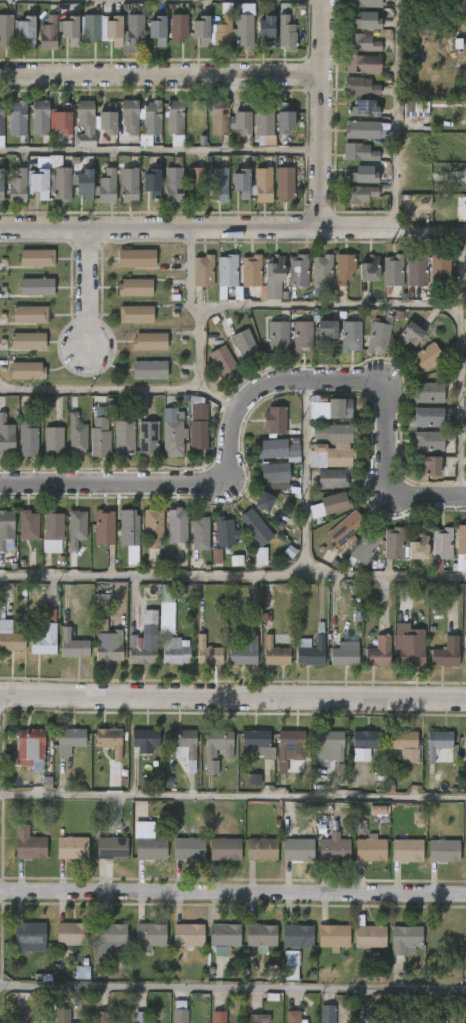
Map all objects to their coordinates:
building: (354, 3)
building: (373, 3)
building: (370, 19)
building: (92, 27)
building: (180, 27)
building: (269, 28)
building: (27, 29)
building: (73, 29)
building: (160, 29)
building: (115, 30)
building: (136, 30)
building: (226, 30)
building: (7, 31)
building: (48, 33)
building: (288, 33)
building: (364, 42)
building: (365, 63)
road: (160, 75)
building: (363, 86)
building: (367, 108)
road: (321, 113)
building: (131, 115)
road: (395, 115)
building: (41, 116)
building: (17, 118)
building: (110, 118)
building: (65, 121)
building: (176, 121)
building: (221, 121)
building: (243, 121)
building: (286, 121)
building: (2, 122)
building: (152, 122)
building: (86, 123)
building: (266, 126)
building: (364, 129)
building: (361, 152)
road: (160, 153)
building: (366, 174)
building: (175, 180)
building: (43, 181)
building: (155, 182)
building: (244, 182)
building: (2, 183)
building: (87, 183)
building: (197, 183)
building: (265, 183)
building: (130, 184)
building: (220, 184)
building: (285, 184)
building: (109, 185)
building: (360, 194)
road: (233, 227)
building: (138, 257)
building: (38, 258)
building: (346, 267)
building: (373, 267)
building: (205, 270)
building: (253, 270)
building: (419, 270)
building: (395, 272)
building: (439, 272)
building: (323, 273)
building: (287, 274)
building: (229, 276)
building: (38, 286)
building: (136, 287)
road: (84, 289)
road: (373, 308)
building: (31, 314)
building: (137, 314)
building: (317, 315)
building: (465, 325)
building: (326, 331)
building: (412, 334)
building: (381, 335)
building: (279, 336)
building: (303, 336)
building: (352, 336)
building: (29, 341)
building: (151, 341)
building: (246, 344)
building: (426, 357)
building: (223, 361)
building: (151, 369)
building: (28, 370)
road: (197, 374)
road: (98, 389)
building: (429, 393)
road: (252, 396)
building: (331, 407)
building: (429, 417)
building: (274, 418)
building: (199, 427)
building: (334, 432)
building: (100, 433)
building: (125, 433)
building: (173, 433)
building: (28, 434)
building: (6, 435)
building: (78, 435)
building: (150, 439)
building: (54, 441)
building: (433, 441)
building: (277, 448)
building: (332, 457)
building: (428, 468)
building: (275, 474)
road: (303, 477)
building: (331, 478)
building: (264, 502)
building: (332, 505)
building: (27, 524)
building: (176, 524)
building: (5, 526)
building: (255, 526)
building: (103, 527)
building: (127, 527)
building: (152, 527)
building: (344, 527)
building: (75, 528)
building: (51, 531)
building: (223, 531)
building: (200, 533)
building: (393, 542)
building: (461, 542)
building: (418, 546)
building: (440, 546)
building: (363, 548)
building: (216, 556)
building: (260, 556)
road: (233, 576)
building: (102, 600)
building: (169, 628)
building: (44, 637)
building: (11, 641)
building: (108, 642)
building: (144, 644)
building: (409, 644)
building: (72, 645)
building: (312, 650)
building: (465, 650)
building: (206, 652)
building: (243, 652)
building: (274, 652)
building: (378, 652)
building: (446, 652)
building: (343, 656)
road: (233, 695)
building: (68, 740)
building: (108, 740)
building: (143, 740)
building: (464, 741)
building: (363, 742)
building: (403, 742)
building: (257, 743)
building: (29, 744)
building: (289, 745)
building: (328, 745)
building: (183, 746)
building: (436, 746)
building: (216, 748)
building: (254, 779)
road: (233, 797)
building: (377, 810)
building: (149, 840)
building: (29, 843)
building: (73, 847)
building: (113, 848)
building: (190, 848)
building: (226, 848)
building: (263, 849)
building: (299, 849)
building: (372, 849)
building: (335, 850)
building: (445, 850)
building: (408, 851)
building: (465, 853)
road: (233, 894)
building: (31, 933)
building: (73, 933)
building: (226, 934)
building: (187, 936)
building: (260, 936)
building: (296, 936)
building: (369, 936)
building: (148, 937)
building: (332, 937)
building: (110, 938)
building: (405, 939)
building: (465, 945)
building: (290, 965)
building: (82, 972)
road: (233, 986)
building: (181, 1012)
building: (328, 1013)
building: (63, 1016)
building: (24, 1017)
building: (101, 1017)
building: (140, 1017)
building: (219, 1017)
building: (295, 1017)
building: (401, 1017)
building: (258, 1018)
building: (440, 1018)

